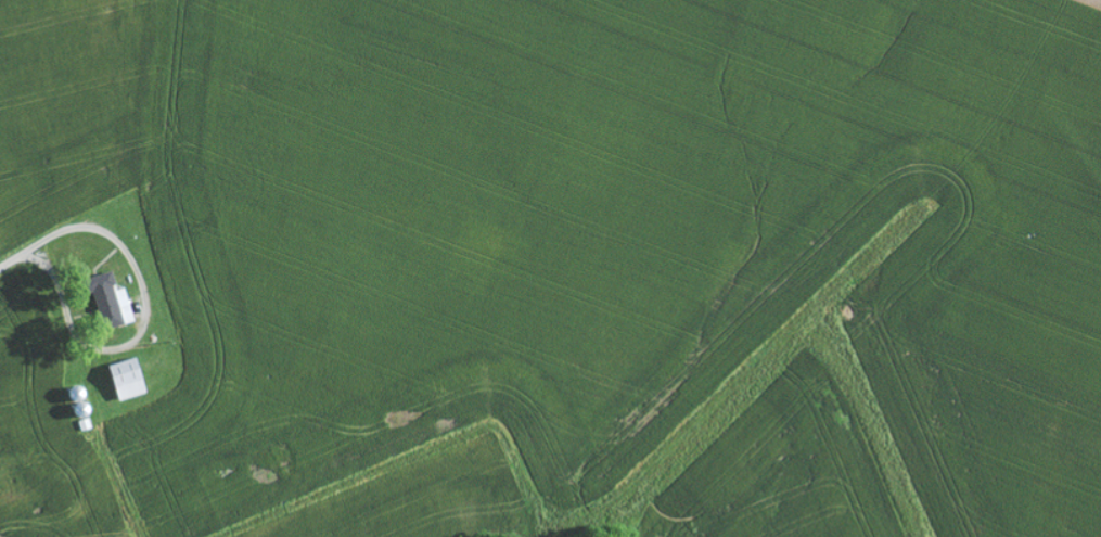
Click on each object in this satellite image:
road: (9, 266)
building: (116, 301)
road: (144, 324)
building: (129, 380)

